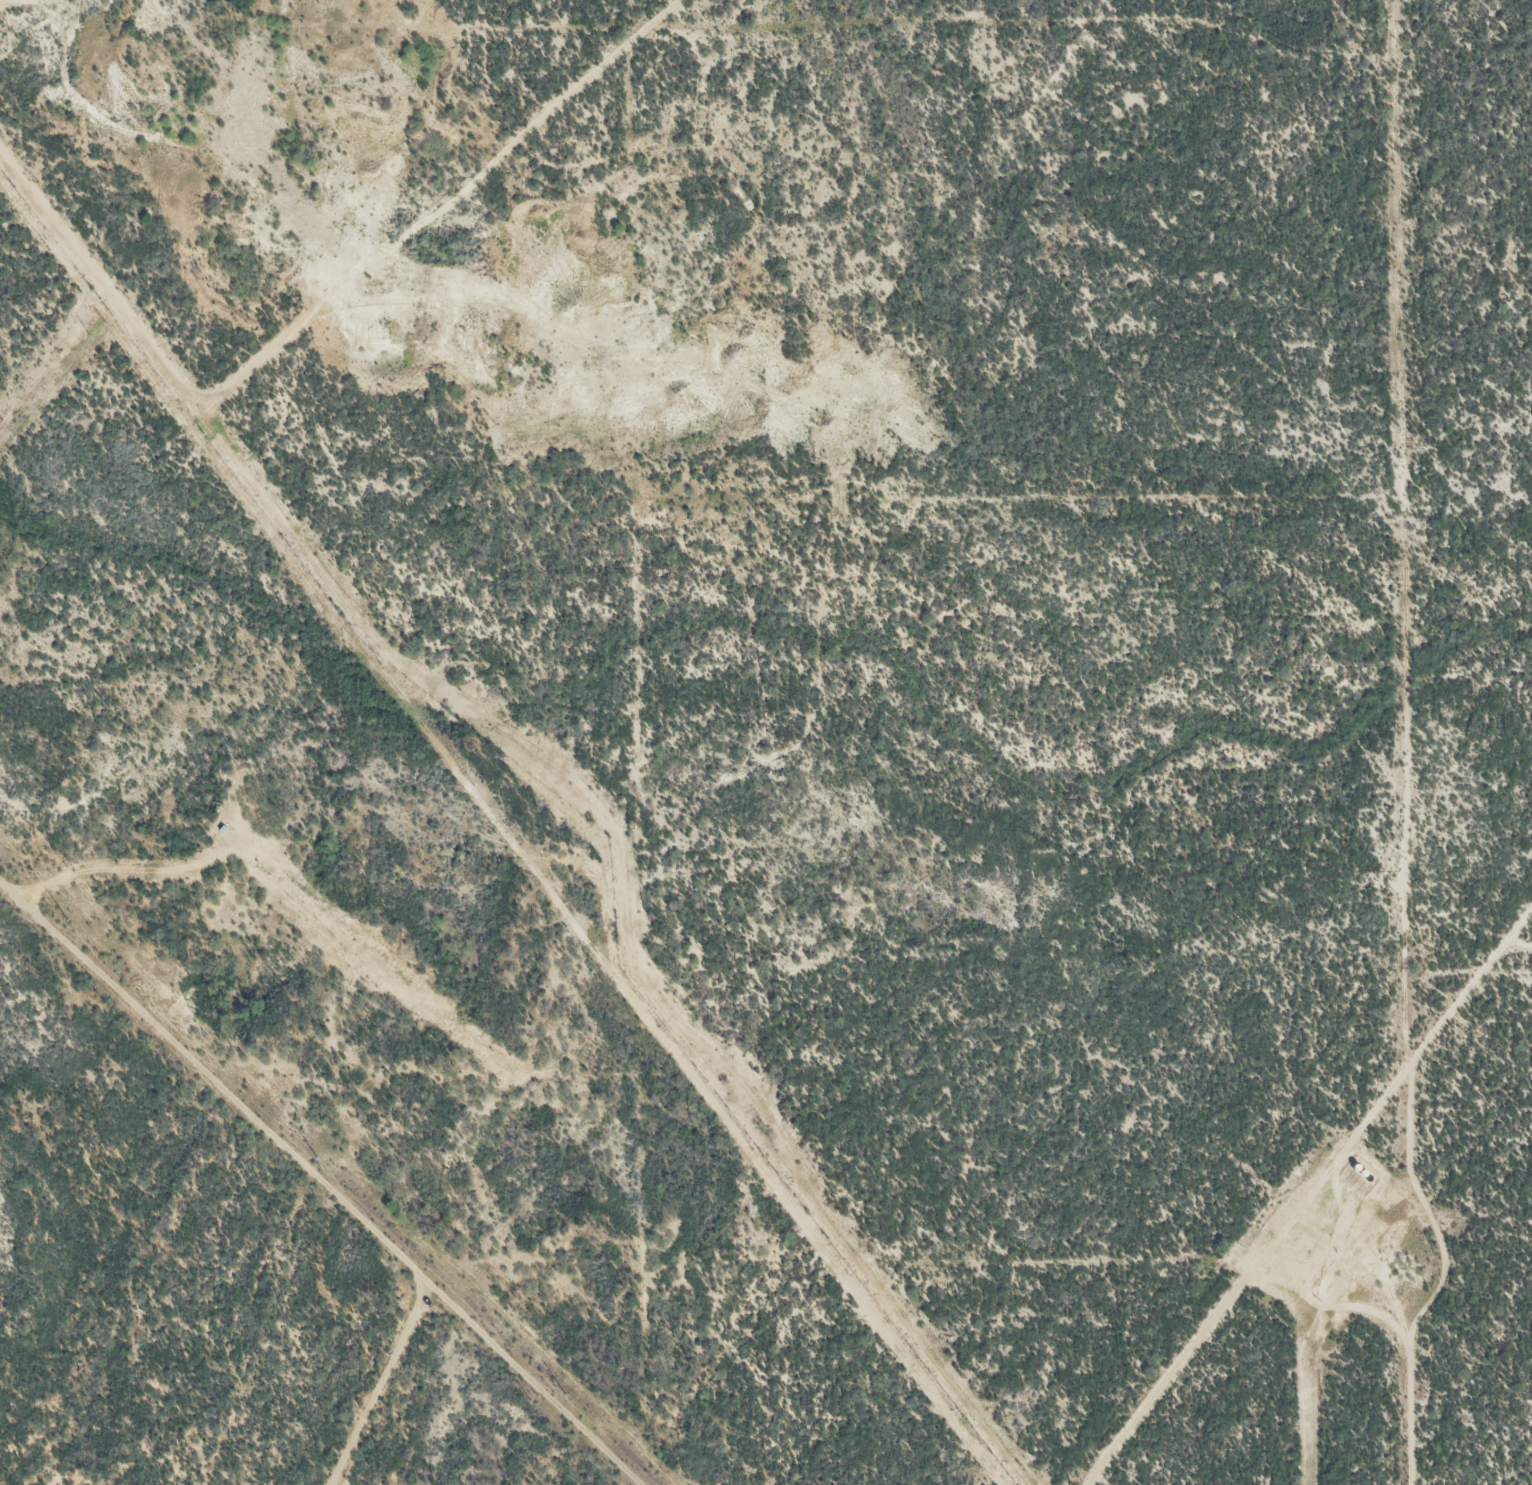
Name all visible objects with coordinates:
power tower: (67, 921)
power tower: (318, 1157)
power tower: (566, 1396)

